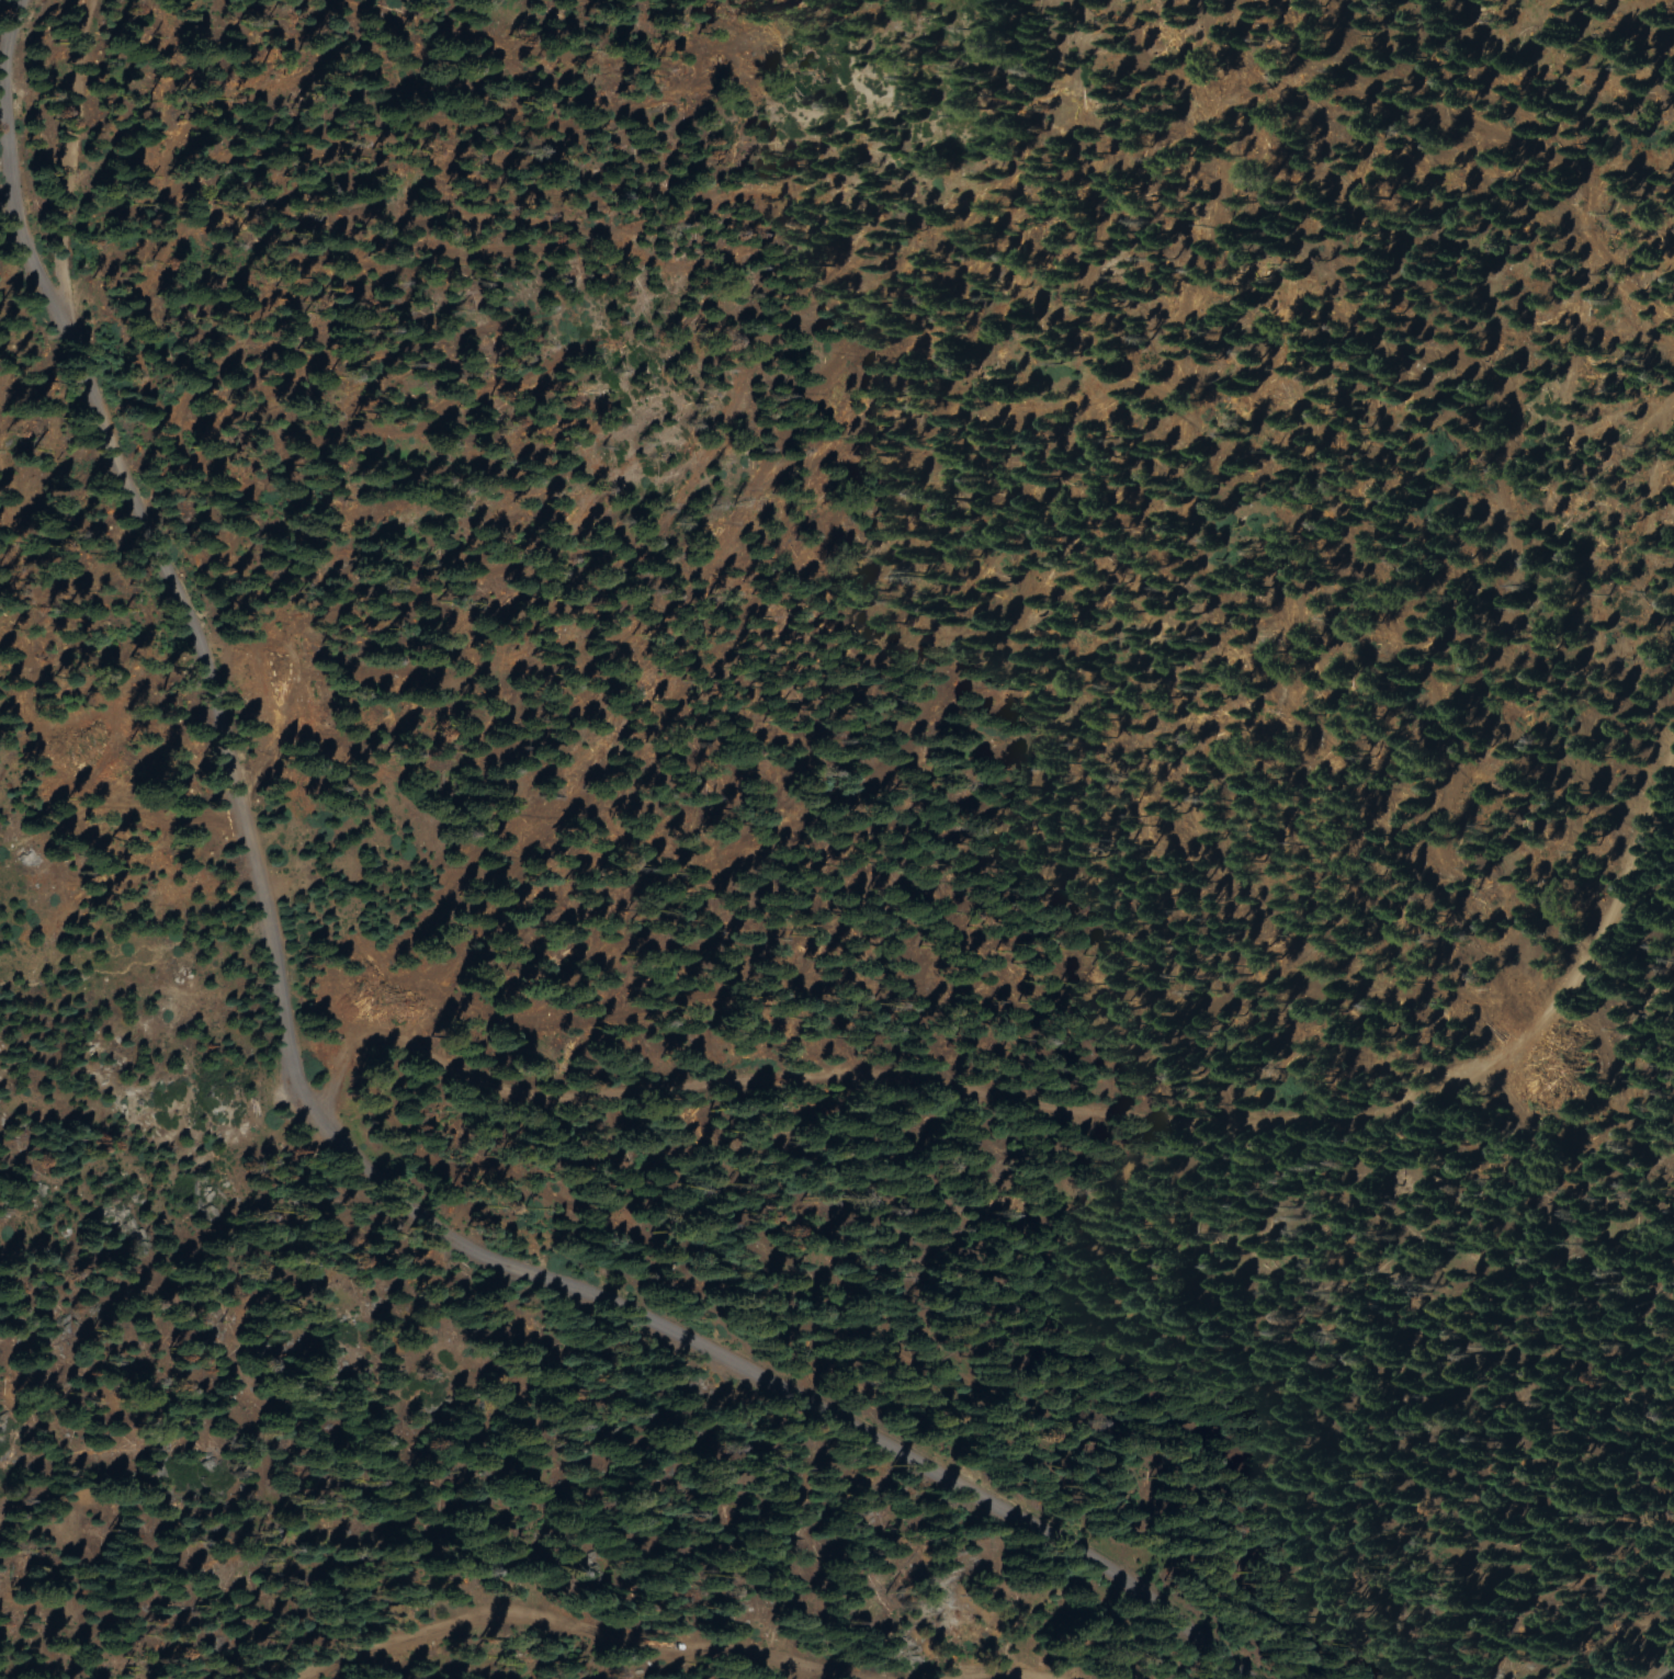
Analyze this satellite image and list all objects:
road: (76, 146)
road: (301, 1091)
road: (1057, 1104)
road: (580, 1625)
road: (1667, 1674)
road: (1007, 1678)

